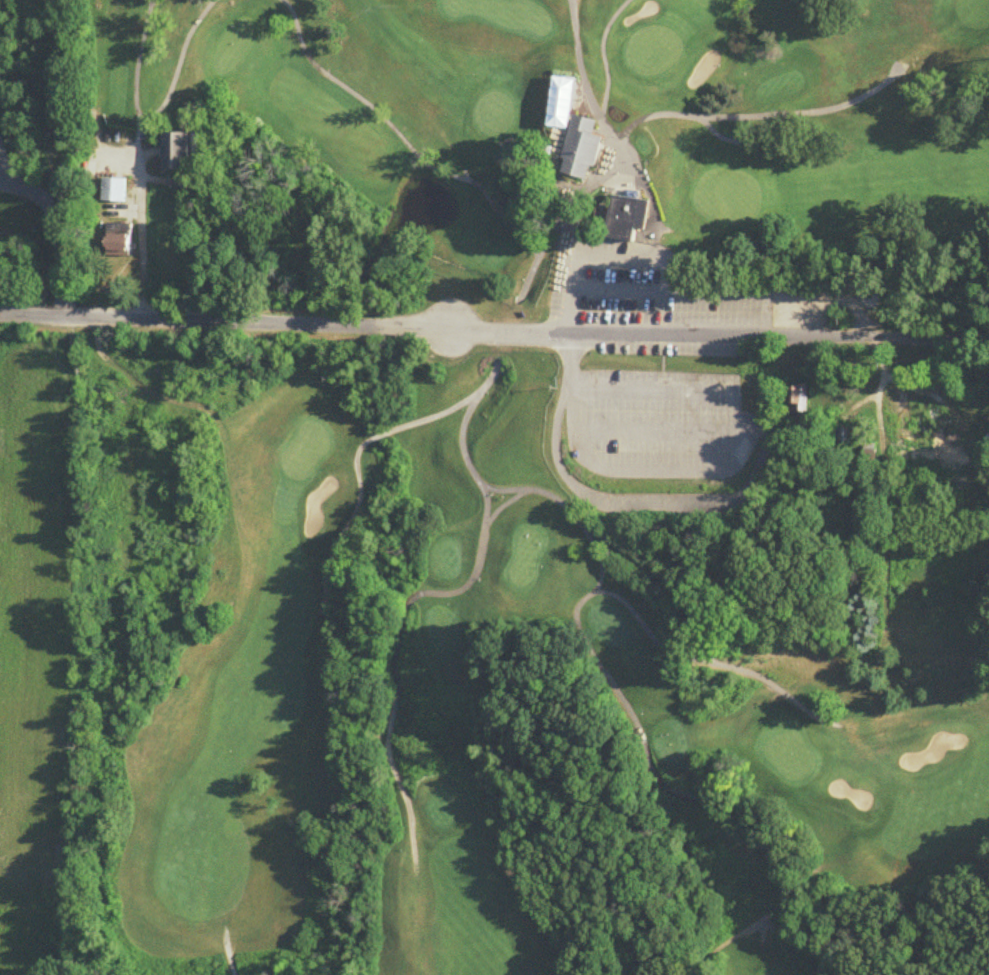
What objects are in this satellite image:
road: (189, 41)
road: (604, 55)
road: (138, 78)
road: (761, 113)
road: (615, 127)
road: (731, 138)
building: (185, 152)
road: (417, 155)
building: (606, 186)
building: (115, 191)
road: (52, 236)
road: (144, 242)
building: (119, 243)
road: (661, 251)
road: (630, 282)
parking lot: (636, 283)
road: (494, 329)
building: (800, 400)
building: (919, 408)
road: (405, 422)
road: (657, 423)
building: (845, 437)
road: (720, 464)
park: (553, 494)
road: (504, 500)
road: (388, 656)
road: (716, 661)
road: (631, 712)
road: (226, 951)

